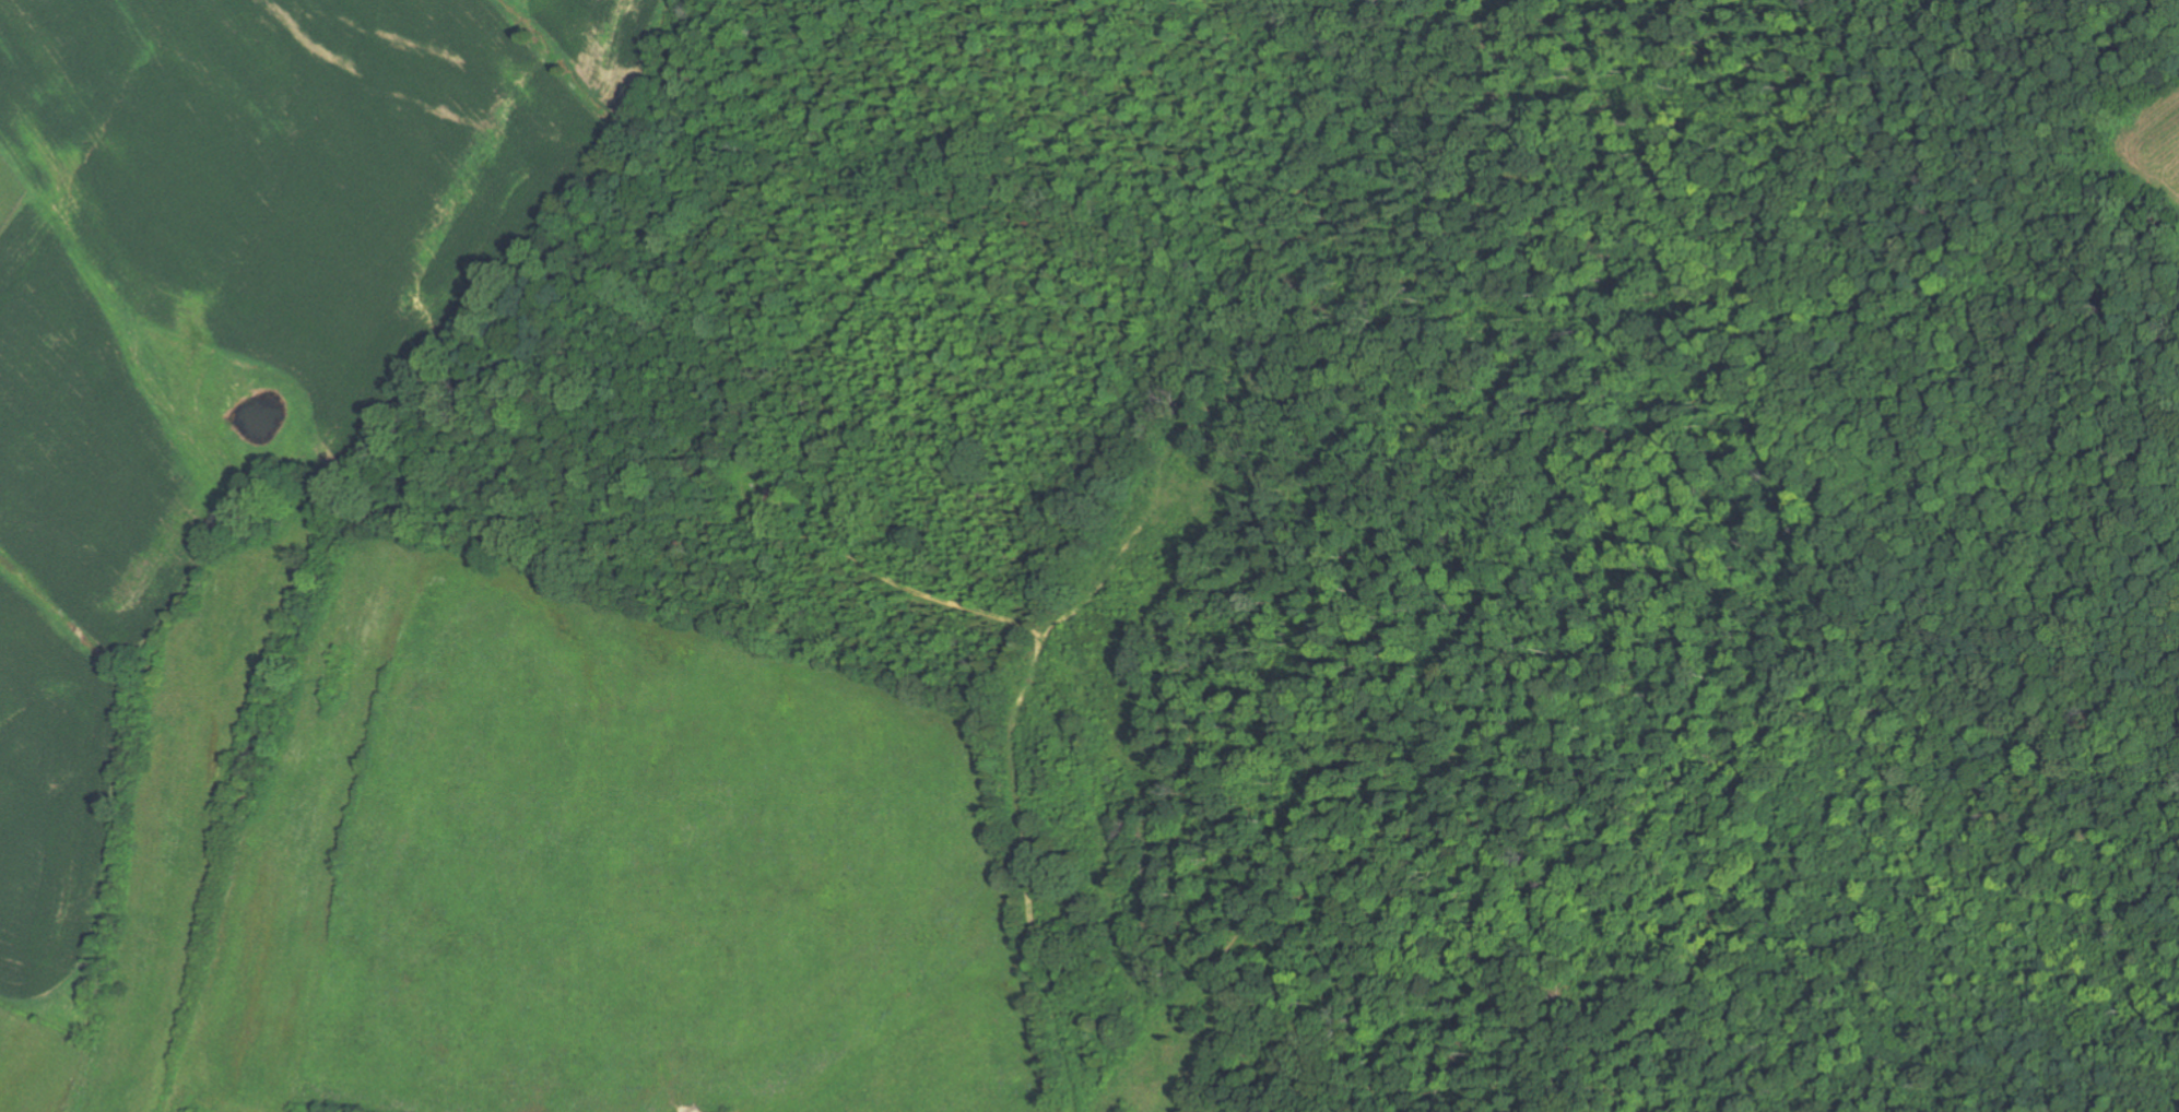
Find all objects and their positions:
road: (36, 116)
road: (309, 926)

